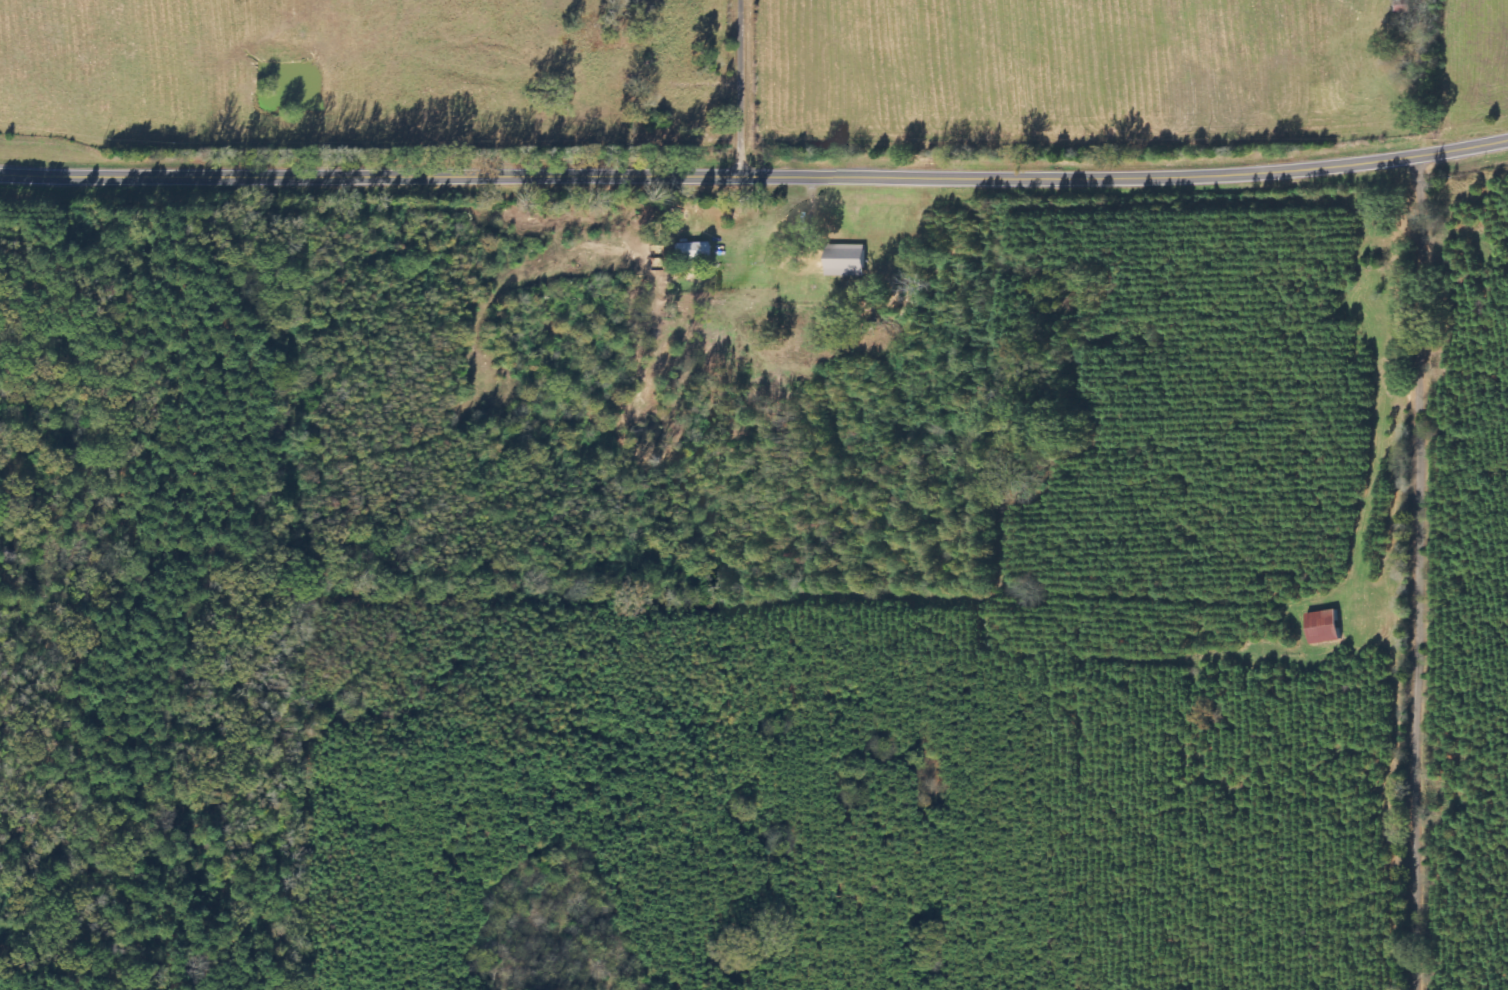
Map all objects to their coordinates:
road: (750, 88)
road: (755, 176)
building: (690, 251)
building: (846, 261)
building: (1323, 627)

